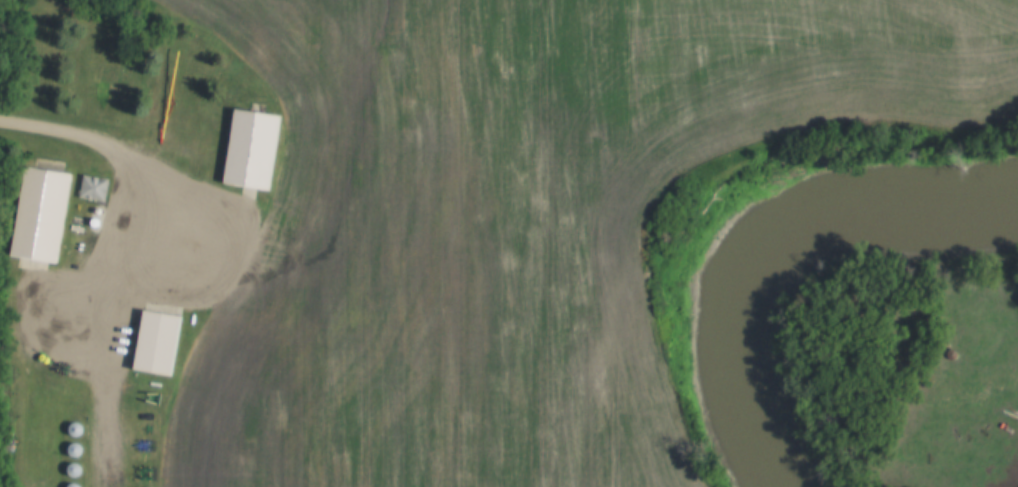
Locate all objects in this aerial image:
road: (43, 126)
building: (250, 148)
building: (93, 186)
building: (40, 213)
river: (754, 238)
road: (110, 296)
building: (156, 341)

